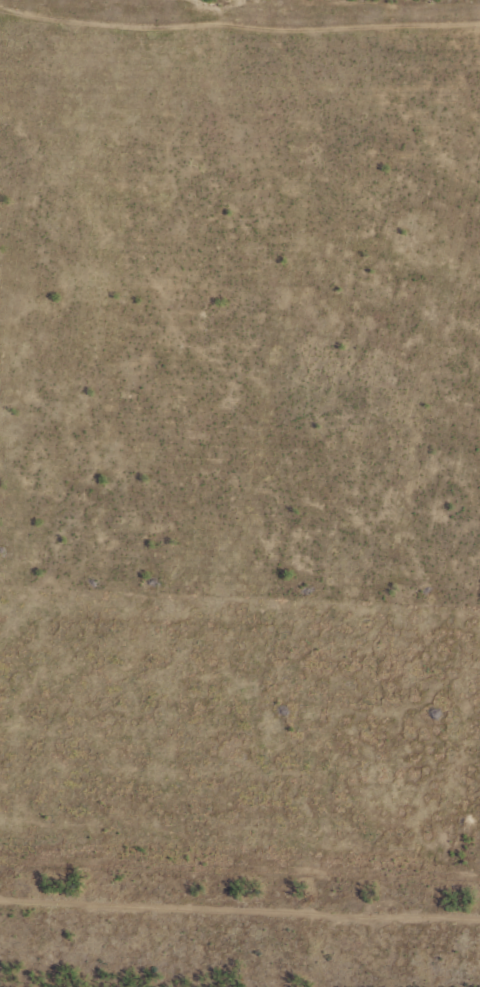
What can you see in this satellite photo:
road: (271, 382)

